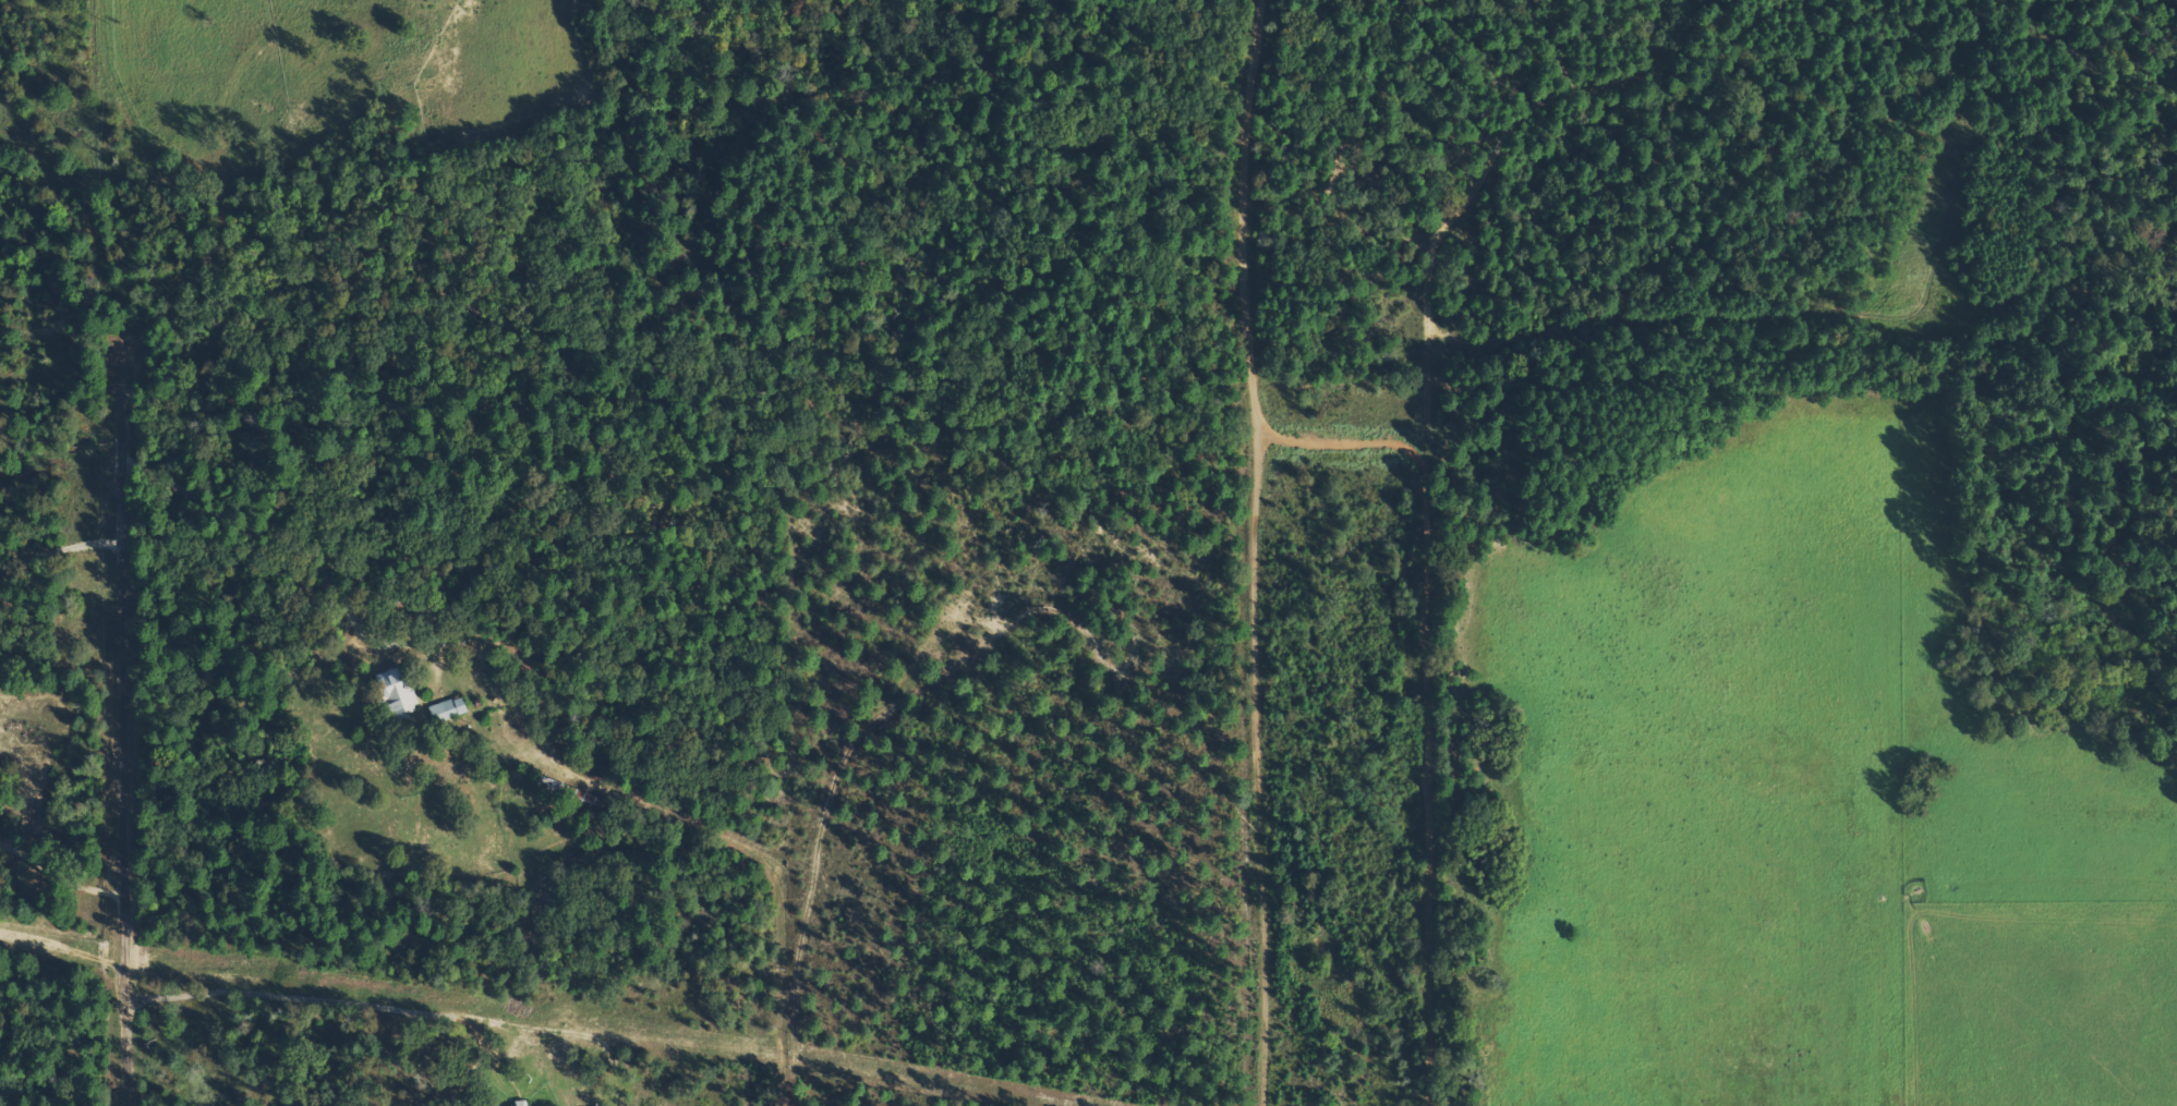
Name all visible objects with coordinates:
building: (394, 695)
building: (446, 710)
road: (130, 725)
road: (63, 878)
building: (518, 1103)

